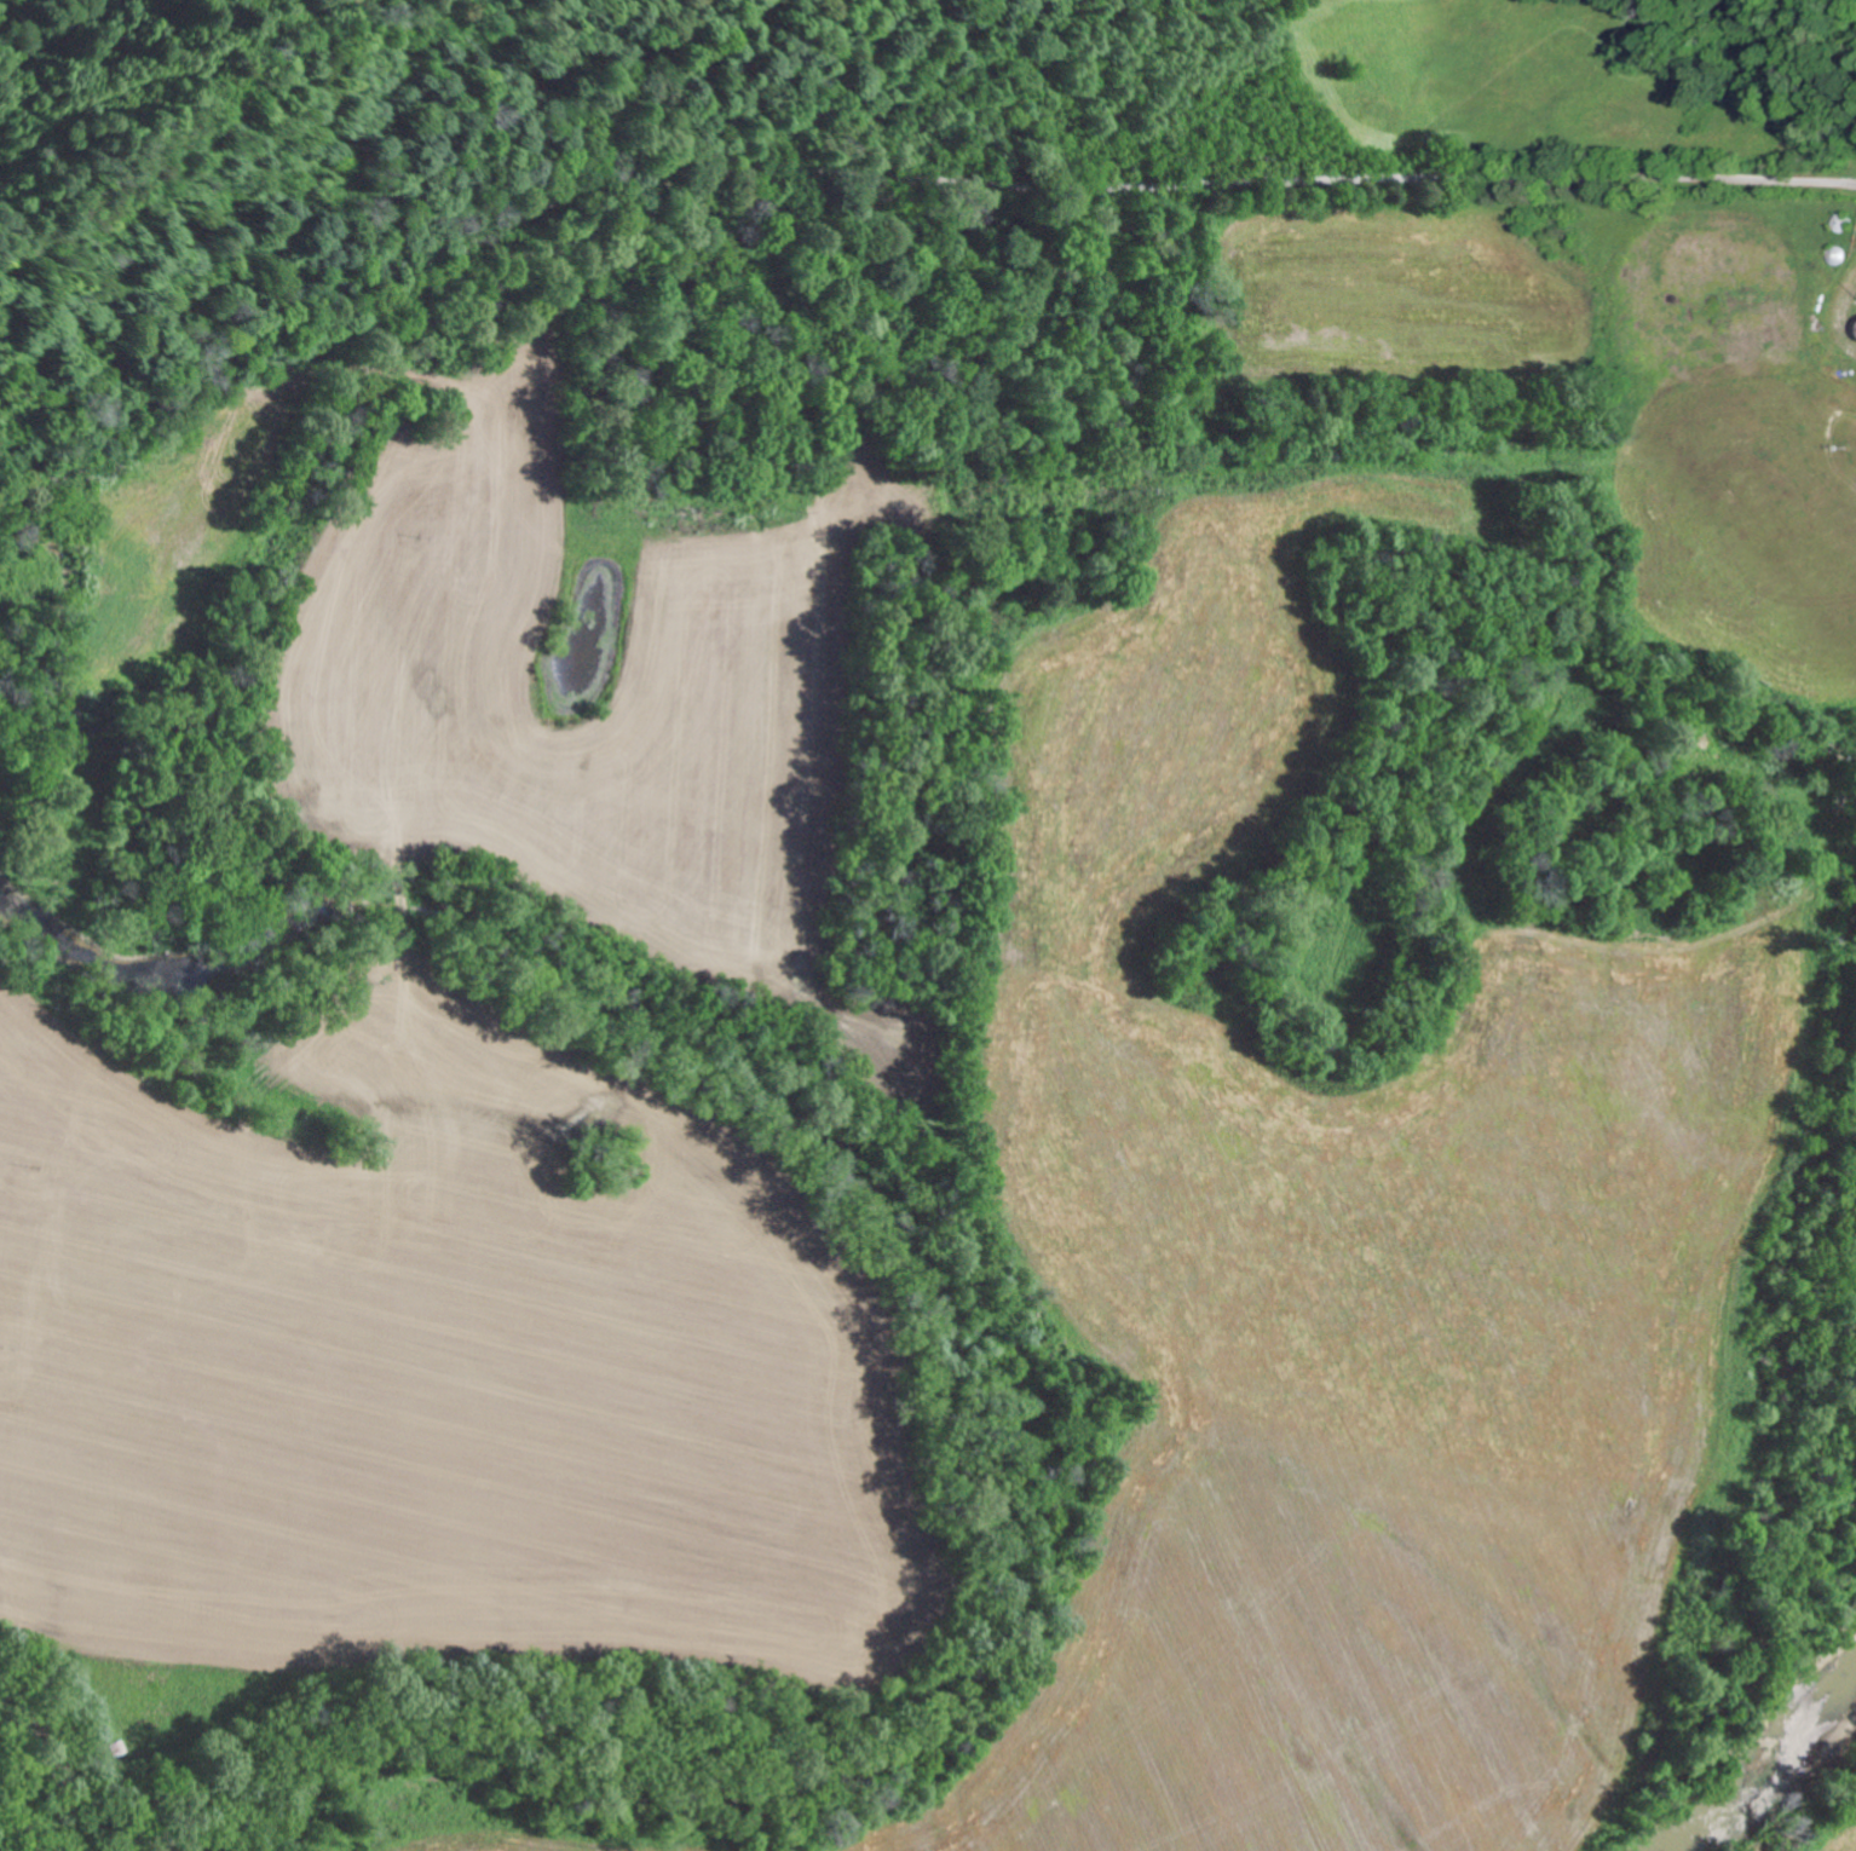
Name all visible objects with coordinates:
road: (889, 184)

